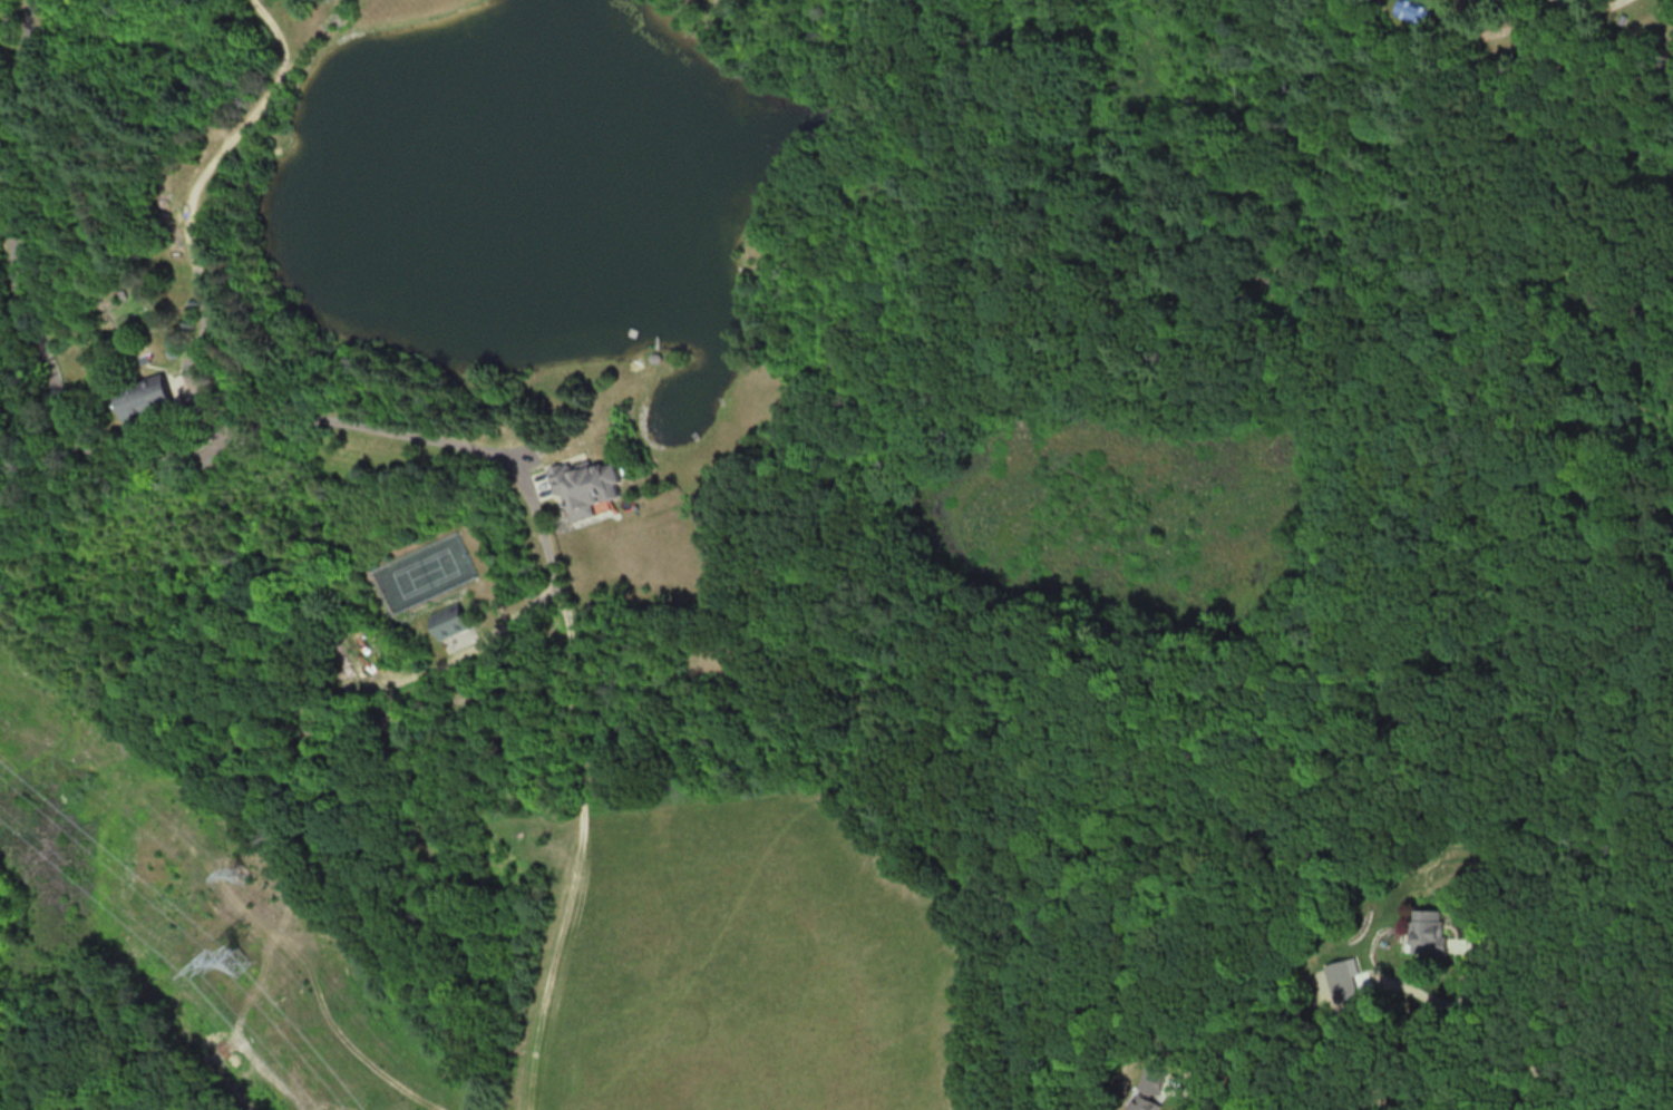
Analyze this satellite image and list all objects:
road: (1591, 8)
building: (165, 212)
road: (14, 237)
building: (146, 397)
building: (587, 486)
building: (450, 620)
power tower: (246, 870)
road: (1602, 922)
building: (1426, 928)
power tower: (240, 958)
road: (1420, 1090)

